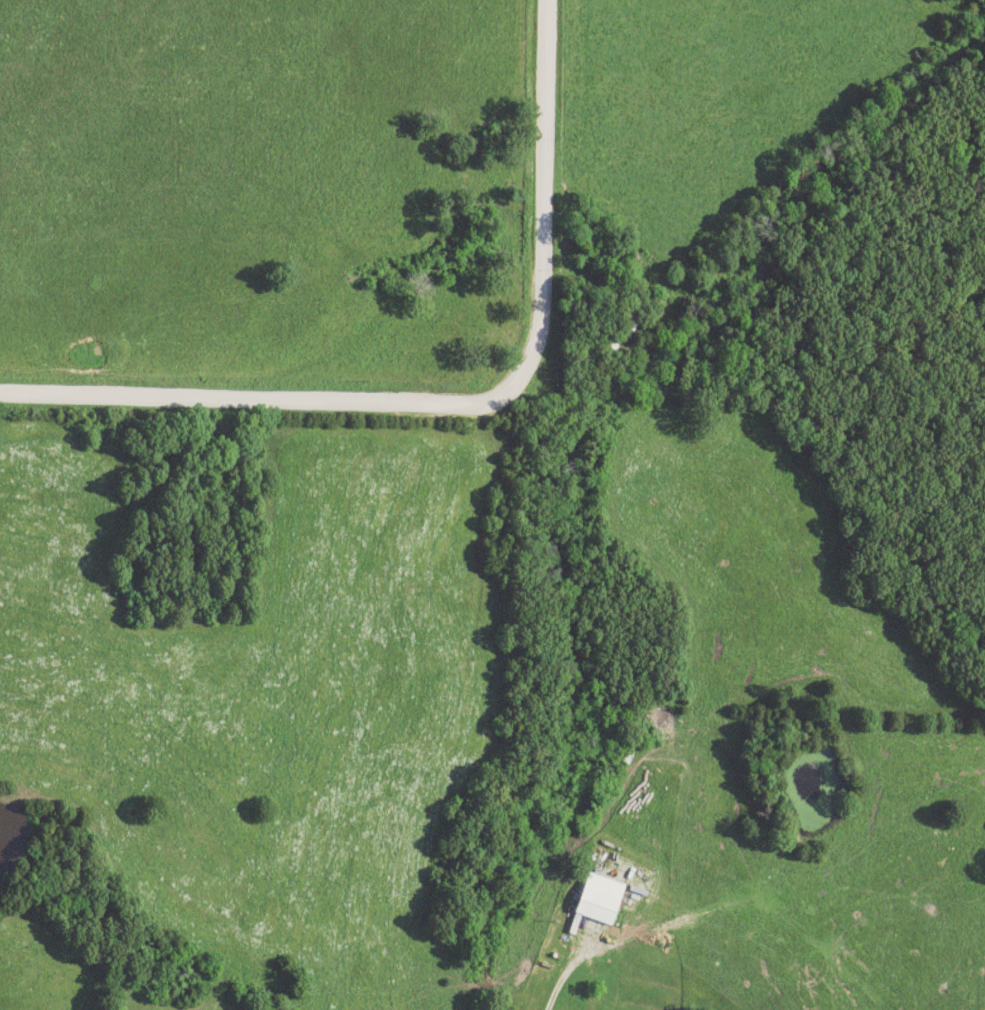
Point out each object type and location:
road: (593, 291)
road: (453, 408)
building: (599, 899)
road: (629, 973)

